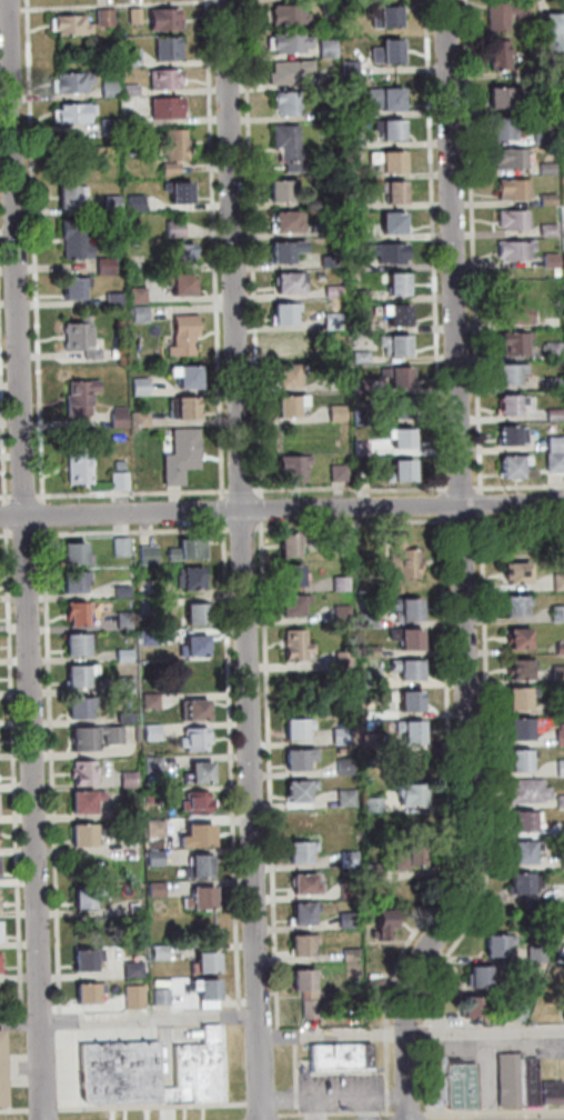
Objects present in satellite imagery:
road: (222, 0)
road: (113, 4)
building: (324, 8)
building: (345, 8)
road: (8, 10)
building: (502, 13)
building: (284, 14)
building: (131, 16)
building: (101, 17)
building: (384, 18)
building: (161, 19)
building: (68, 26)
building: (553, 32)
building: (286, 42)
building: (323, 48)
building: (164, 49)
building: (384, 52)
building: (497, 54)
building: (127, 57)
building: (346, 68)
building: (286, 71)
building: (162, 79)
building: (321, 81)
building: (68, 82)
building: (105, 87)
building: (127, 90)
building: (501, 96)
building: (383, 98)
building: (284, 103)
building: (541, 106)
building: (163, 108)
building: (351, 109)
building: (70, 113)
building: (325, 114)
building: (129, 120)
building: (562, 120)
building: (105, 123)
building: (496, 129)
building: (390, 130)
building: (540, 138)
building: (348, 139)
building: (173, 144)
building: (285, 146)
building: (78, 150)
building: (562, 151)
building: (507, 158)
building: (385, 161)
building: (168, 168)
building: (544, 169)
building: (348, 172)
building: (510, 189)
building: (175, 191)
building: (276, 191)
building: (393, 193)
building: (68, 196)
building: (545, 199)
building: (109, 202)
building: (351, 202)
building: (510, 219)
building: (282, 222)
building: (389, 223)
building: (329, 228)
building: (172, 229)
building: (545, 230)
building: (353, 231)
building: (71, 240)
road: (469, 246)
road: (430, 247)
road: (211, 248)
road: (249, 248)
building: (512, 250)
road: (31, 251)
building: (282, 251)
building: (385, 252)
building: (180, 253)
building: (326, 261)
building: (548, 261)
building: (352, 263)
building: (102, 266)
building: (284, 283)
building: (178, 284)
building: (394, 284)
building: (70, 289)
building: (330, 291)
building: (355, 293)
building: (134, 294)
building: (111, 298)
building: (137, 312)
building: (280, 314)
building: (393, 314)
building: (511, 314)
building: (330, 320)
building: (356, 324)
building: (180, 334)
building: (77, 340)
building: (510, 343)
building: (391, 344)
building: (286, 346)
building: (550, 350)
building: (332, 351)
building: (357, 357)
building: (507, 373)
building: (283, 376)
building: (182, 377)
building: (394, 377)
building: (333, 382)
building: (550, 382)
building: (356, 384)
building: (135, 386)
building: (77, 397)
building: (286, 406)
building: (508, 406)
building: (397, 407)
building: (182, 409)
building: (333, 413)
building: (552, 414)
building: (117, 417)
building: (359, 417)
building: (138, 419)
building: (508, 436)
building: (396, 438)
building: (552, 444)
building: (359, 448)
building: (178, 456)
building: (552, 462)
building: (508, 467)
building: (77, 469)
building: (290, 469)
building: (397, 472)
building: (334, 473)
building: (115, 481)
road: (0, 482)
road: (517, 486)
road: (459, 487)
road: (348, 488)
road: (238, 490)
road: (129, 492)
road: (19, 496)
road: (3, 497)
road: (477, 503)
road: (439, 504)
road: (258, 509)
road: (281, 509)
road: (220, 510)
road: (1, 516)
road: (40, 516)
road: (517, 518)
road: (459, 520)
road: (349, 523)
road: (238, 528)
road: (129, 531)
road: (3, 534)
road: (20, 534)
building: (336, 540)
building: (118, 546)
building: (184, 547)
building: (285, 547)
building: (71, 549)
building: (145, 554)
building: (400, 558)
road: (23, 560)
road: (242, 560)
road: (461, 567)
building: (513, 574)
building: (187, 577)
building: (289, 577)
building: (71, 580)
building: (556, 582)
building: (338, 583)
building: (119, 589)
building: (143, 606)
building: (290, 606)
building: (512, 607)
building: (402, 608)
building: (73, 611)
building: (339, 611)
building: (193, 613)
building: (555, 613)
building: (121, 618)
building: (366, 619)
building: (145, 637)
building: (403, 639)
building: (516, 640)
building: (74, 643)
building: (191, 644)
building: (293, 646)
building: (558, 648)
building: (365, 651)
building: (120, 654)
building: (341, 659)
building: (404, 669)
building: (517, 670)
building: (77, 672)
building: (556, 674)
building: (366, 680)
building: (121, 684)
building: (516, 698)
building: (147, 700)
building: (404, 700)
building: (558, 707)
building: (77, 708)
building: (194, 708)
building: (122, 717)
building: (293, 729)
building: (517, 730)
building: (148, 731)
building: (406, 732)
building: (90, 737)
building: (338, 737)
building: (558, 738)
building: (191, 739)
building: (367, 741)
building: (338, 751)
building: (295, 759)
building: (516, 761)
building: (150, 763)
building: (341, 767)
building: (558, 768)
building: (195, 771)
road: (226, 771)
building: (80, 772)
road: (47, 776)
road: (9, 777)
building: (125, 778)
road: (265, 780)
building: (524, 791)
building: (296, 792)
building: (406, 794)
building: (149, 796)
building: (343, 798)
building: (558, 800)
building: (82, 801)
building: (193, 803)
building: (370, 804)
building: (123, 808)
road: (486, 820)
road: (447, 821)
building: (521, 821)
building: (152, 828)
building: (561, 829)
building: (80, 833)
building: (195, 834)
building: (413, 851)
building: (298, 852)
building: (521, 852)
building: (151, 858)
building: (346, 859)
building: (400, 859)
building: (561, 860)
building: (195, 866)
building: (371, 876)
building: (521, 883)
building: (303, 884)
building: (152, 888)
building: (557, 888)
building: (346, 890)
building: (84, 894)
building: (199, 896)
building: (300, 916)
building: (345, 920)
building: (380, 926)
building: (0, 930)
building: (495, 944)
building: (299, 947)
building: (155, 952)
building: (348, 954)
building: (533, 954)
building: (82, 960)
building: (202, 962)
building: (130, 967)
building: (483, 976)
road: (26, 977)
road: (50, 977)
building: (380, 984)
building: (91, 992)
building: (211, 992)
building: (311, 992)
building: (165, 997)
building: (139, 998)
building: (477, 1004)
building: (563, 1006)
building: (520, 1012)
road: (131, 1019)
road: (413, 1033)
road: (473, 1052)
building: (344, 1058)
road: (229, 1061)
road: (80, 1066)
road: (12, 1067)
building: (203, 1069)
building: (3, 1070)
building: (123, 1073)
road: (492, 1076)
road: (299, 1077)
building: (514, 1079)
building: (533, 1080)
building: (442, 1081)
building: (464, 1086)
building: (555, 1091)
parking lot: (345, 1093)
building: (171, 1096)
road: (338, 1099)
road: (155, 1107)
road: (372, 1109)
road: (265, 1110)
road: (319, 1110)
road: (16, 1111)
road: (48, 1111)
road: (494, 1111)
road: (340, 1113)
road: (413, 1113)

